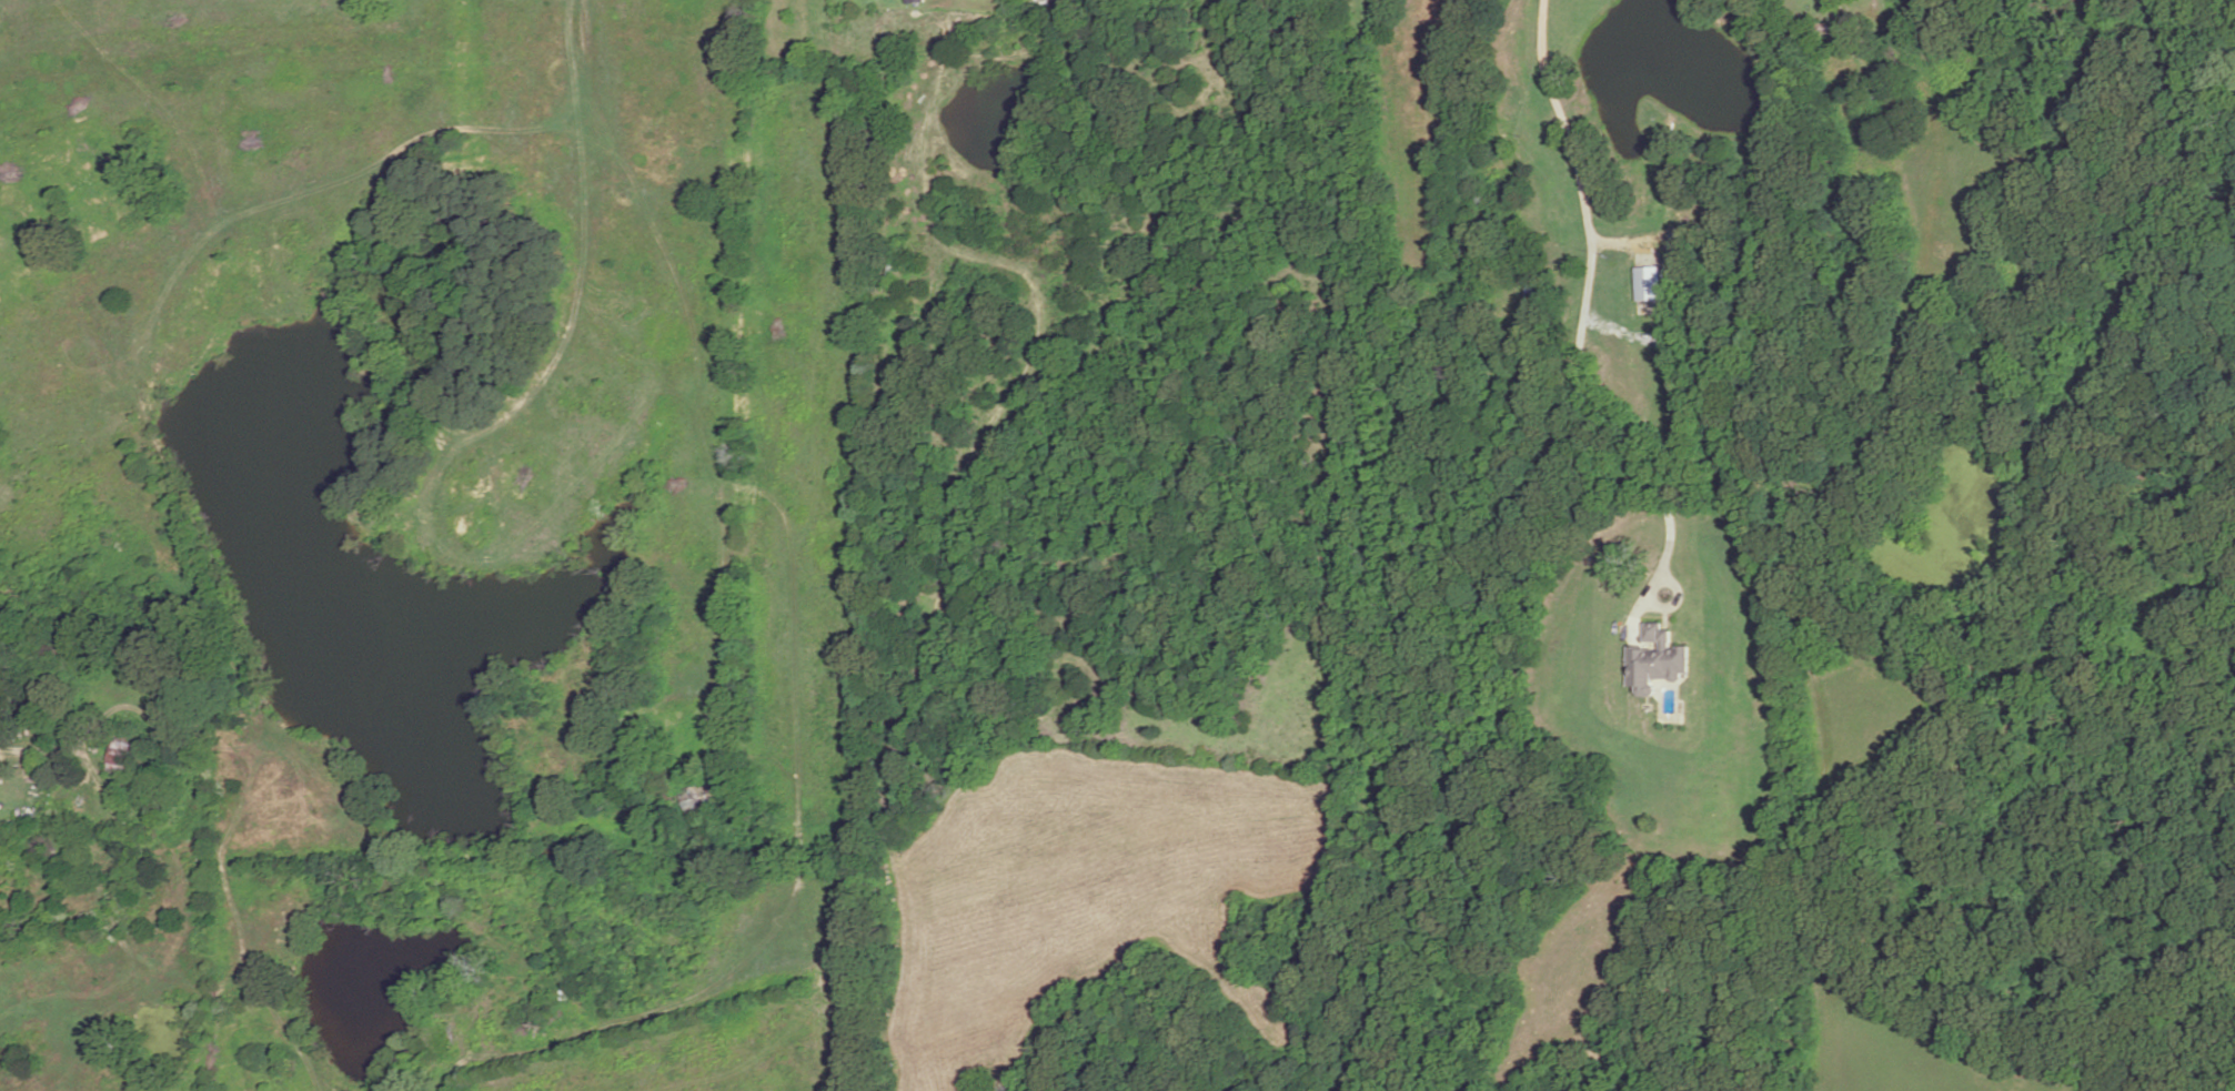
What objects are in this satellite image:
building: (914, 1)
road: (1831, 3)
road: (587, 47)
road: (1574, 147)
road: (1411, 219)
building: (1648, 284)
road: (1603, 407)
building: (1655, 659)
building: (120, 757)
building: (77, 867)

